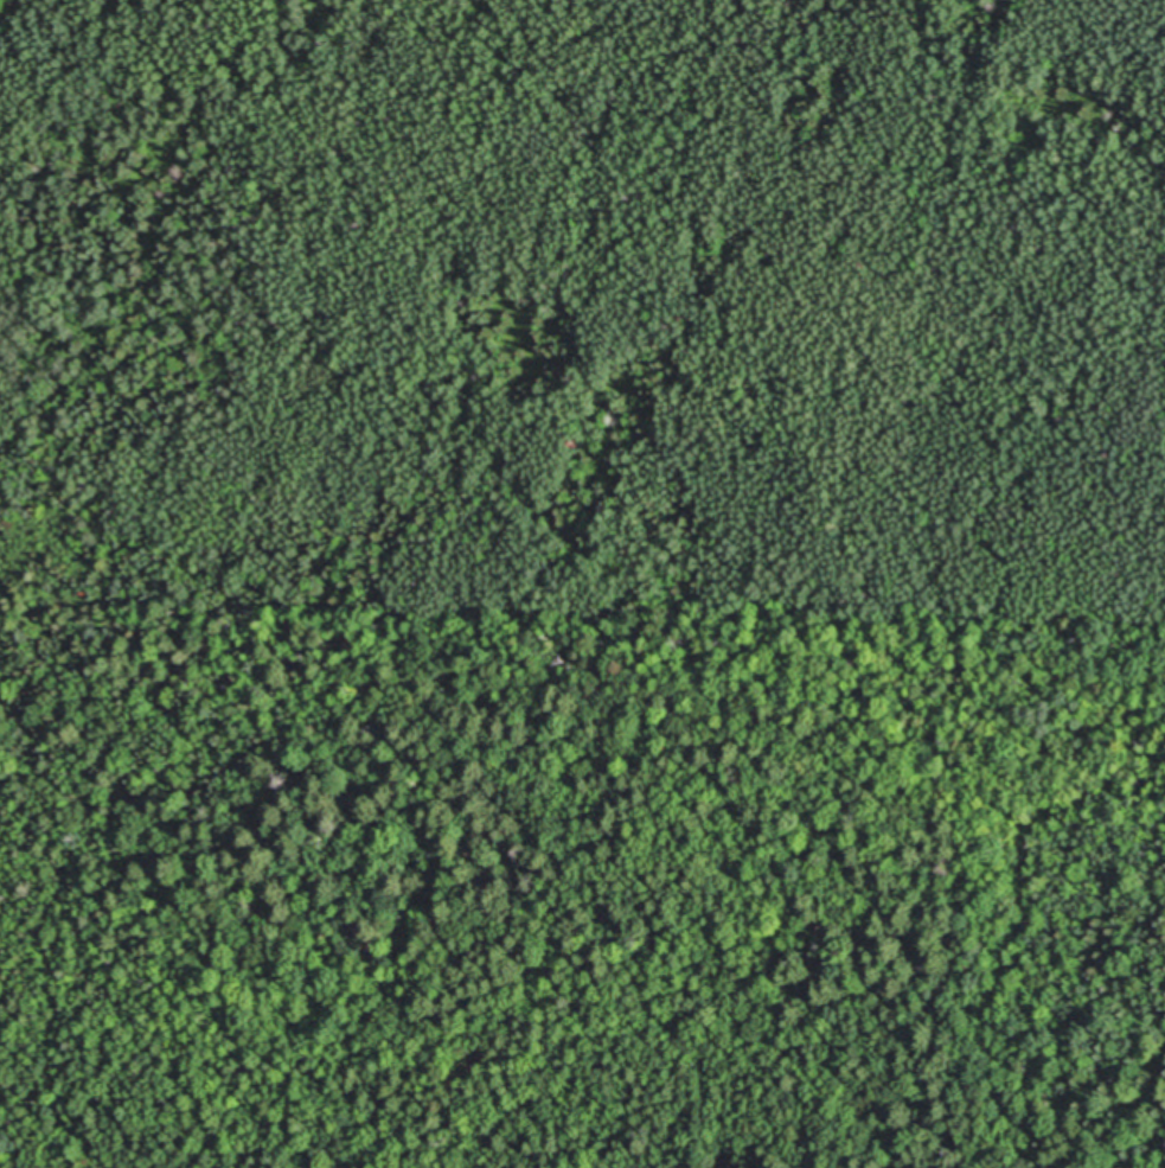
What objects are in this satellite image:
road: (474, 55)

